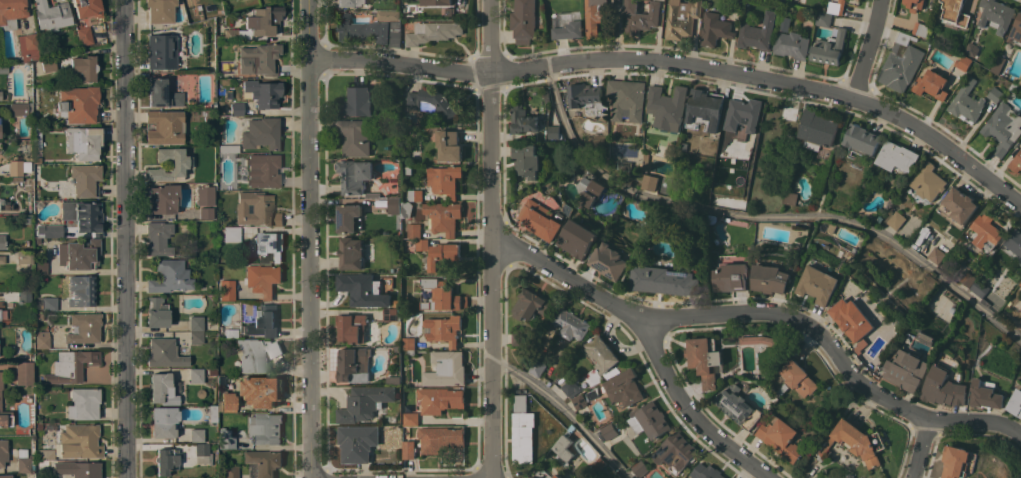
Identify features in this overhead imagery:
building: (784, 1)
building: (350, 2)
building: (439, 2)
building: (736, 4)
building: (915, 4)
building: (837, 6)
building: (87, 8)
building: (160, 10)
building: (11, 13)
building: (957, 13)
building: (996, 13)
building: (51, 15)
building: (595, 16)
building: (641, 16)
building: (683, 17)
building: (823, 18)
building: (524, 20)
building: (785, 23)
building: (256, 24)
building: (568, 24)
building: (359, 28)
building: (716, 28)
building: (921, 28)
building: (1016, 30)
building: (432, 31)
building: (84, 32)
building: (759, 32)
building: (905, 37)
building: (394, 41)
building: (792, 43)
building: (27, 47)
building: (829, 47)
road: (867, 50)
building: (947, 50)
building: (162, 51)
building: (259, 59)
building: (963, 61)
building: (998, 63)
building: (48, 64)
road: (680, 66)
building: (901, 67)
building: (3, 68)
building: (84, 68)
building: (932, 83)
building: (1020, 83)
building: (191, 86)
building: (1014, 88)
building: (262, 93)
building: (995, 93)
building: (163, 94)
building: (228, 94)
building: (0, 95)
building: (547, 96)
building: (587, 96)
building: (628, 99)
building: (358, 101)
building: (967, 101)
building: (434, 102)
building: (78, 104)
building: (669, 107)
building: (21, 108)
building: (237, 109)
building: (705, 110)
building: (790, 112)
building: (744, 113)
building: (523, 119)
building: (164, 126)
building: (435, 126)
building: (1003, 127)
building: (817, 128)
building: (552, 131)
building: (261, 133)
building: (37, 136)
building: (356, 136)
building: (862, 139)
building: (83, 142)
building: (449, 144)
building: (228, 148)
building: (898, 156)
building: (526, 159)
building: (37, 160)
building: (646, 161)
building: (1016, 162)
building: (180, 164)
building: (14, 168)
building: (408, 168)
building: (263, 170)
building: (356, 174)
building: (15, 179)
building: (929, 180)
building: (81, 181)
building: (650, 181)
building: (439, 182)
building: (589, 189)
building: (373, 194)
building: (205, 195)
building: (790, 197)
building: (163, 198)
building: (394, 204)
building: (959, 207)
building: (407, 208)
building: (567, 208)
building: (256, 209)
building: (205, 213)
building: (83, 216)
building: (348, 216)
building: (443, 216)
road: (764, 216)
building: (27, 218)
building: (712, 218)
building: (540, 219)
building: (896, 219)
building: (831, 227)
building: (414, 229)
building: (987, 230)
building: (47, 231)
building: (232, 234)
building: (922, 234)
building: (158, 238)
road: (491, 238)
building: (577, 238)
road: (122, 239)
road: (309, 239)
building: (2, 241)
building: (422, 243)
building: (1015, 243)
building: (269, 246)
building: (796, 246)
building: (351, 252)
building: (936, 254)
building: (79, 255)
building: (443, 255)
building: (23, 257)
building: (2, 259)
building: (608, 260)
building: (40, 267)
building: (169, 276)
building: (732, 276)
building: (263, 278)
building: (771, 278)
building: (967, 278)
building: (664, 279)
building: (818, 283)
building: (365, 288)
building: (979, 288)
building: (227, 290)
building: (81, 291)
building: (441, 294)
building: (24, 295)
building: (49, 303)
building: (397, 303)
building: (532, 303)
building: (952, 308)
road: (767, 312)
building: (156, 313)
building: (392, 313)
building: (0, 314)
building: (38, 316)
building: (852, 318)
building: (263, 321)
building: (196, 323)
building: (571, 323)
building: (352, 327)
building: (83, 328)
building: (444, 328)
building: (196, 336)
building: (519, 338)
building: (41, 339)
building: (759, 339)
building: (409, 344)
building: (397, 348)
building: (539, 351)
building: (164, 353)
building: (602, 353)
building: (39, 354)
building: (255, 354)
building: (705, 359)
building: (355, 364)
building: (71, 366)
building: (537, 367)
building: (445, 368)
building: (906, 369)
building: (212, 372)
building: (23, 373)
building: (799, 374)
building: (195, 375)
building: (394, 379)
building: (1, 380)
building: (571, 386)
building: (625, 387)
building: (944, 387)
building: (783, 388)
building: (162, 389)
building: (260, 390)
building: (200, 393)
building: (592, 393)
building: (986, 393)
building: (440, 398)
building: (579, 400)
building: (365, 402)
building: (1015, 402)
building: (83, 403)
building: (226, 403)
building: (738, 405)
road: (568, 409)
road: (689, 412)
building: (212, 413)
building: (380, 413)
building: (410, 417)
building: (5, 419)
building: (650, 419)
building: (163, 421)
building: (38, 426)
building: (265, 427)
building: (523, 430)
building: (609, 430)
building: (196, 435)
building: (781, 436)
building: (225, 438)
building: (440, 438)
building: (357, 441)
building: (857, 441)
building: (79, 442)
building: (563, 446)
building: (409, 448)
road: (921, 448)
building: (677, 450)
building: (202, 453)
building: (44, 454)
building: (8, 455)
building: (166, 460)
building: (958, 461)
building: (263, 462)
building: (598, 463)
building: (639, 467)
building: (77, 469)
building: (230, 471)
building: (708, 471)
building: (5, 476)
building: (558, 476)
building: (534, 477)
building: (552, 477)
building: (641, 477)
building: (734, 477)
building: (736, 477)

